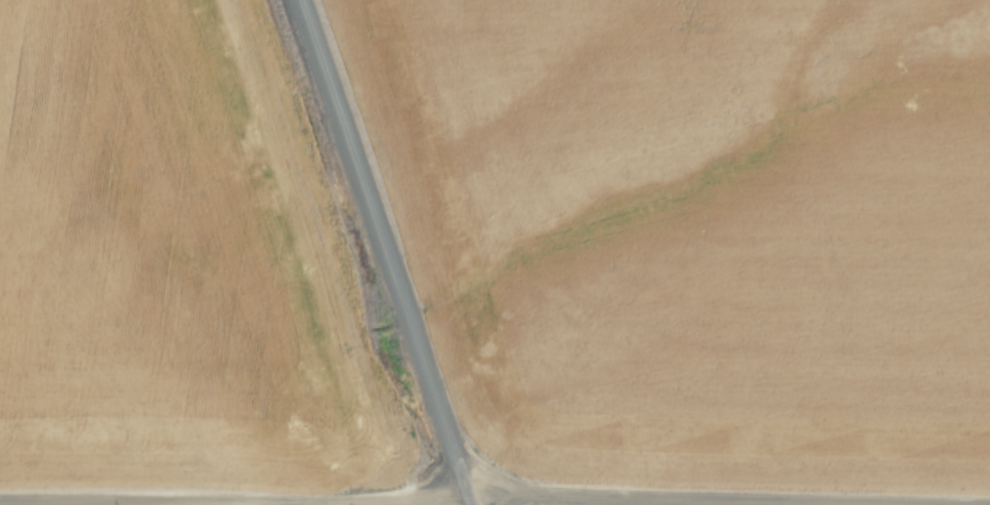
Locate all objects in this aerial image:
road: (380, 245)
road: (727, 497)
road: (428, 498)
road: (466, 498)
road: (196, 503)

